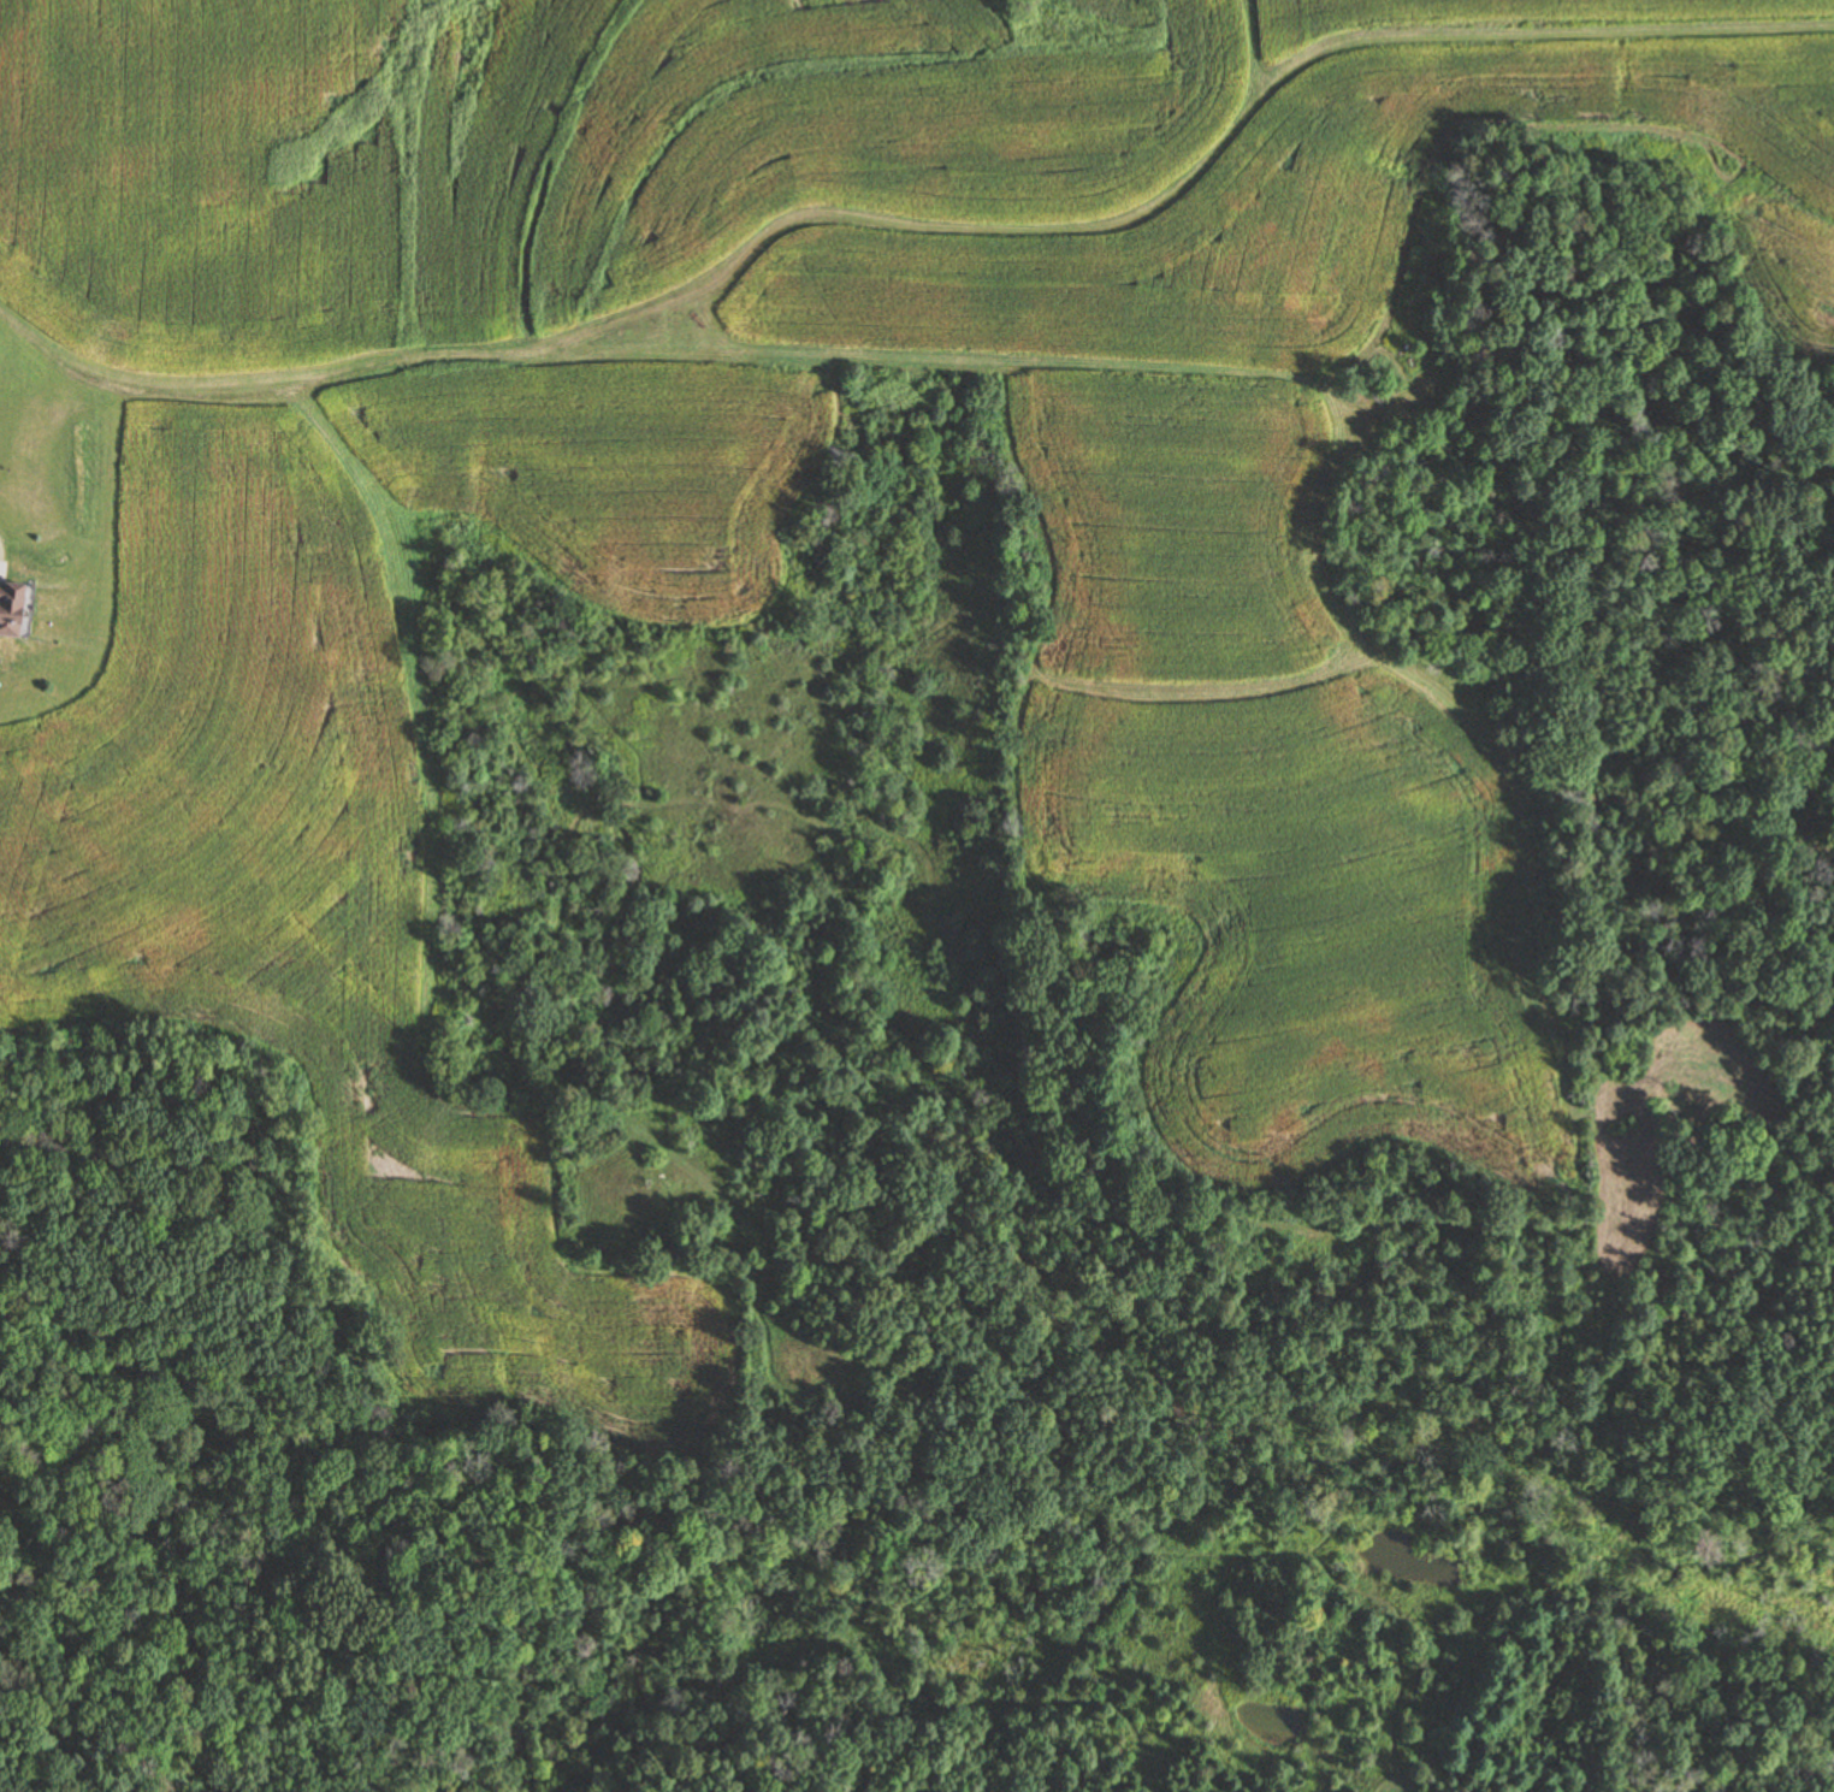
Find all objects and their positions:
building: (16, 608)

